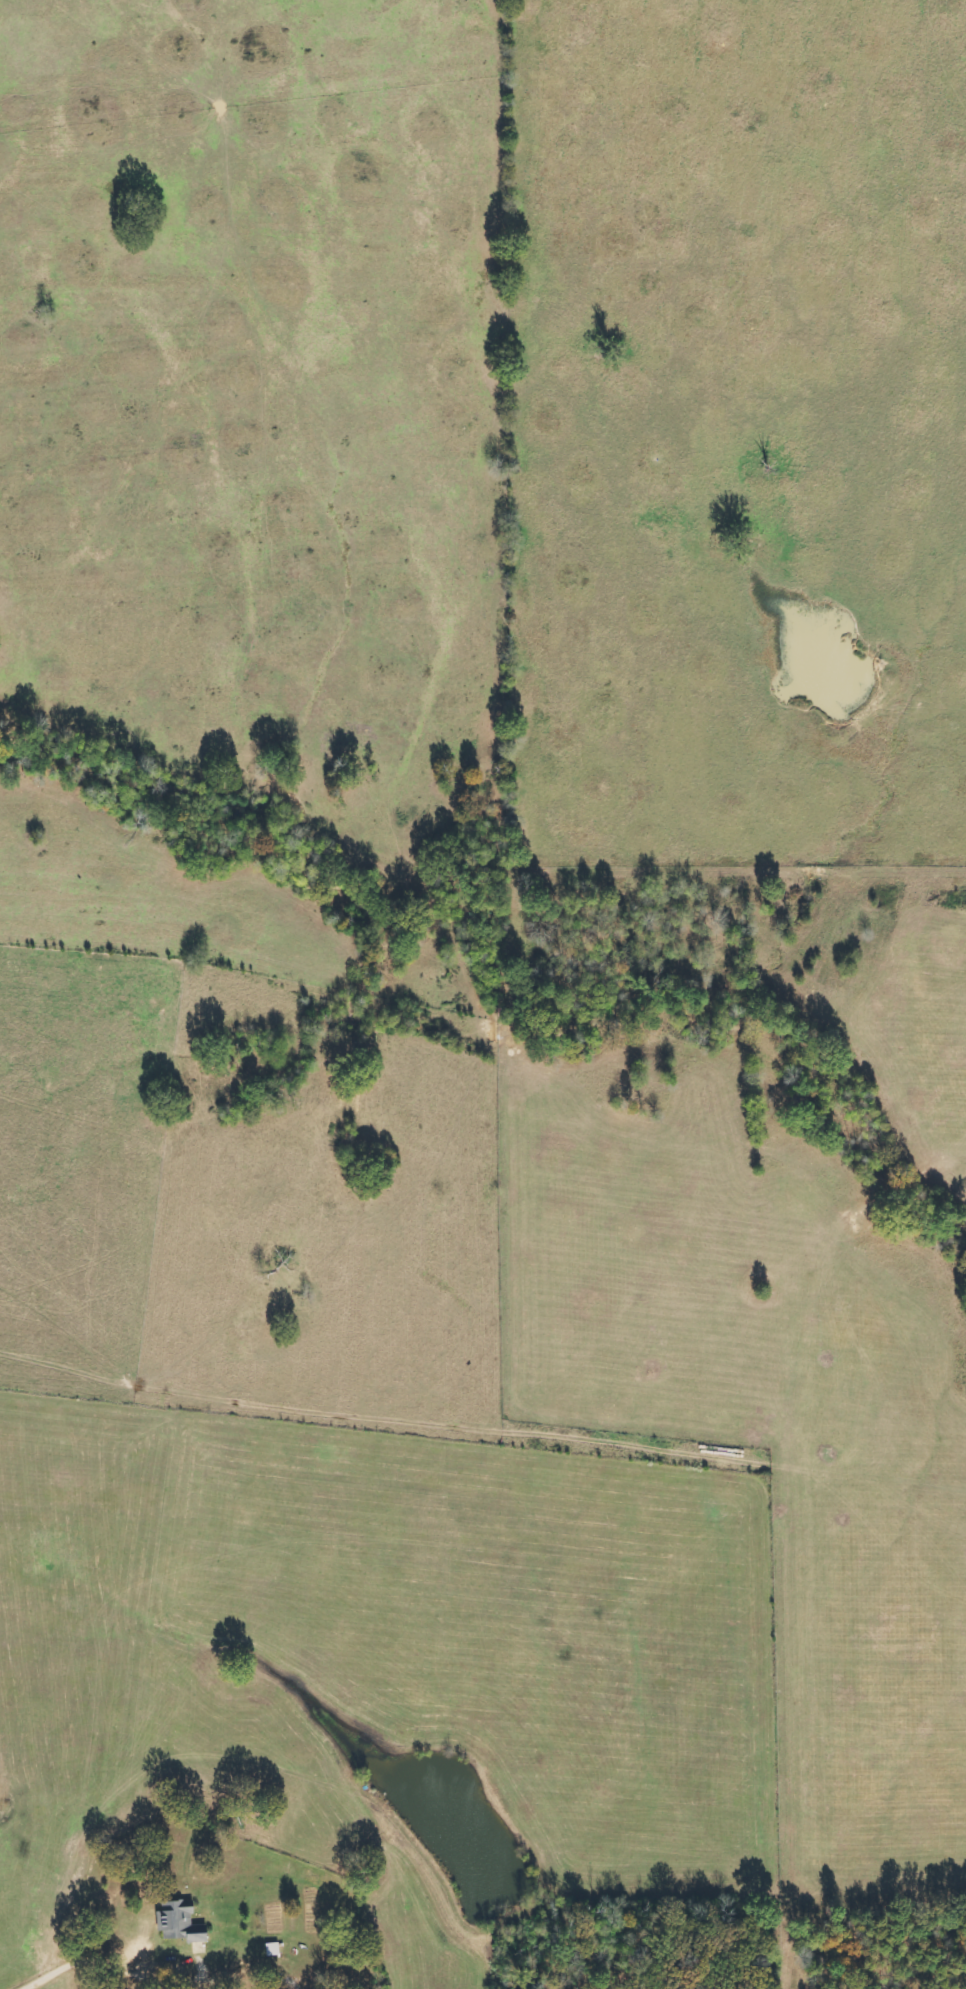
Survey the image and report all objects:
building: (179, 1923)
building: (273, 1949)

